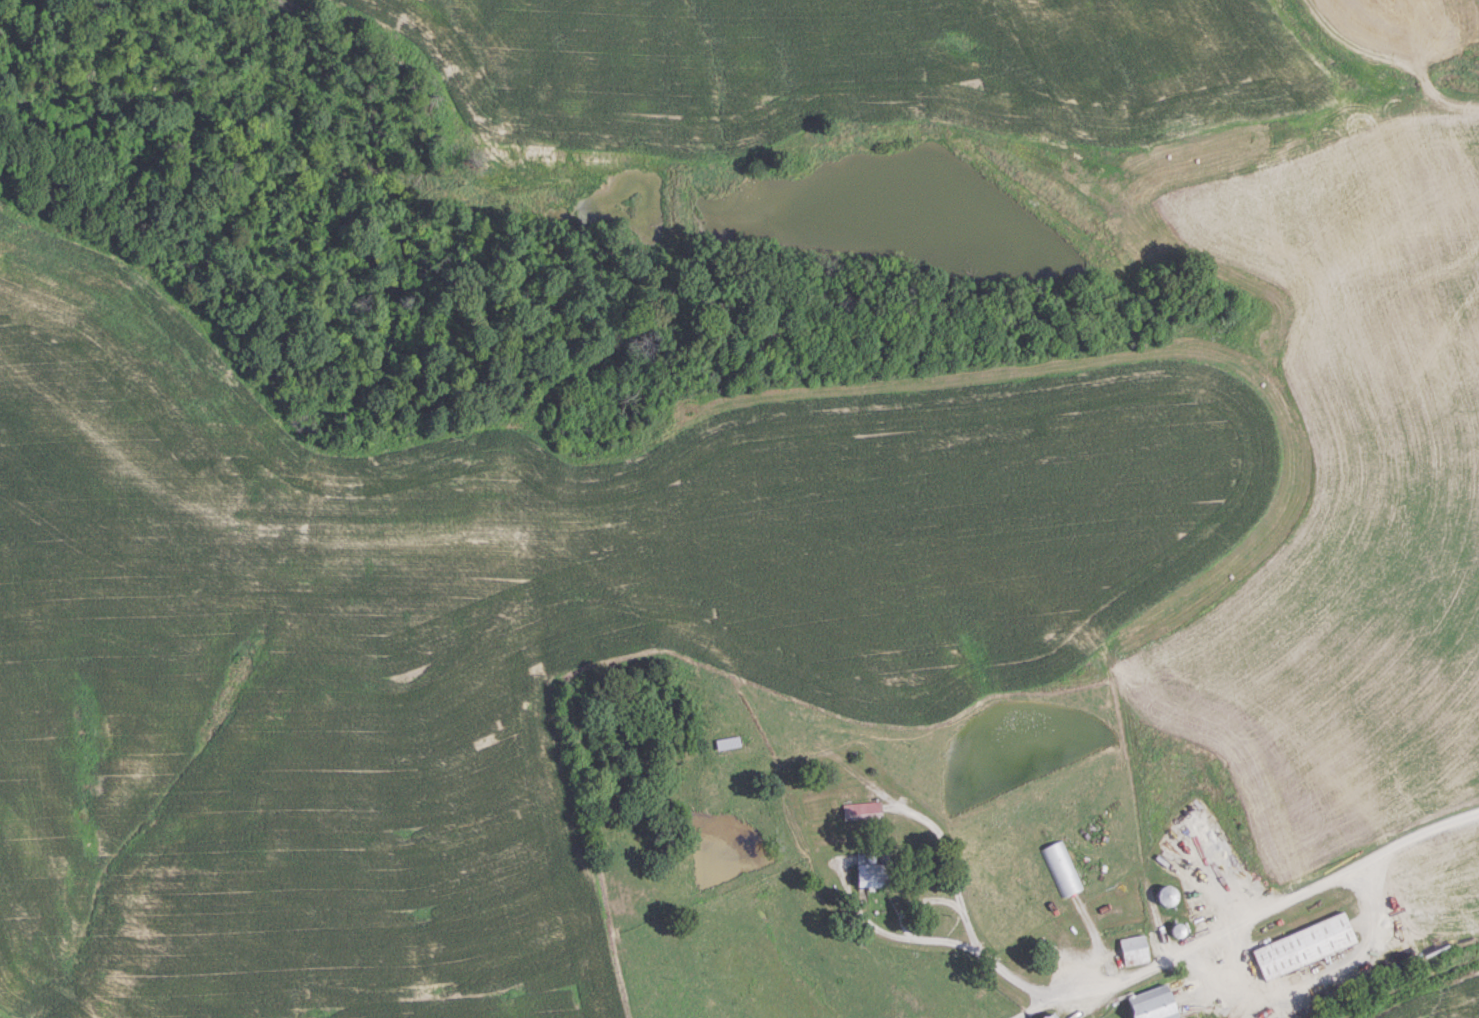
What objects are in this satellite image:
building: (727, 743)
building: (861, 810)
building: (1061, 868)
building: (867, 870)
building: (1165, 895)
road: (1247, 920)
road: (919, 936)
building: (1302, 946)
building: (1133, 950)
road: (1320, 969)
building: (1150, 1004)
building: (1048, 1015)

